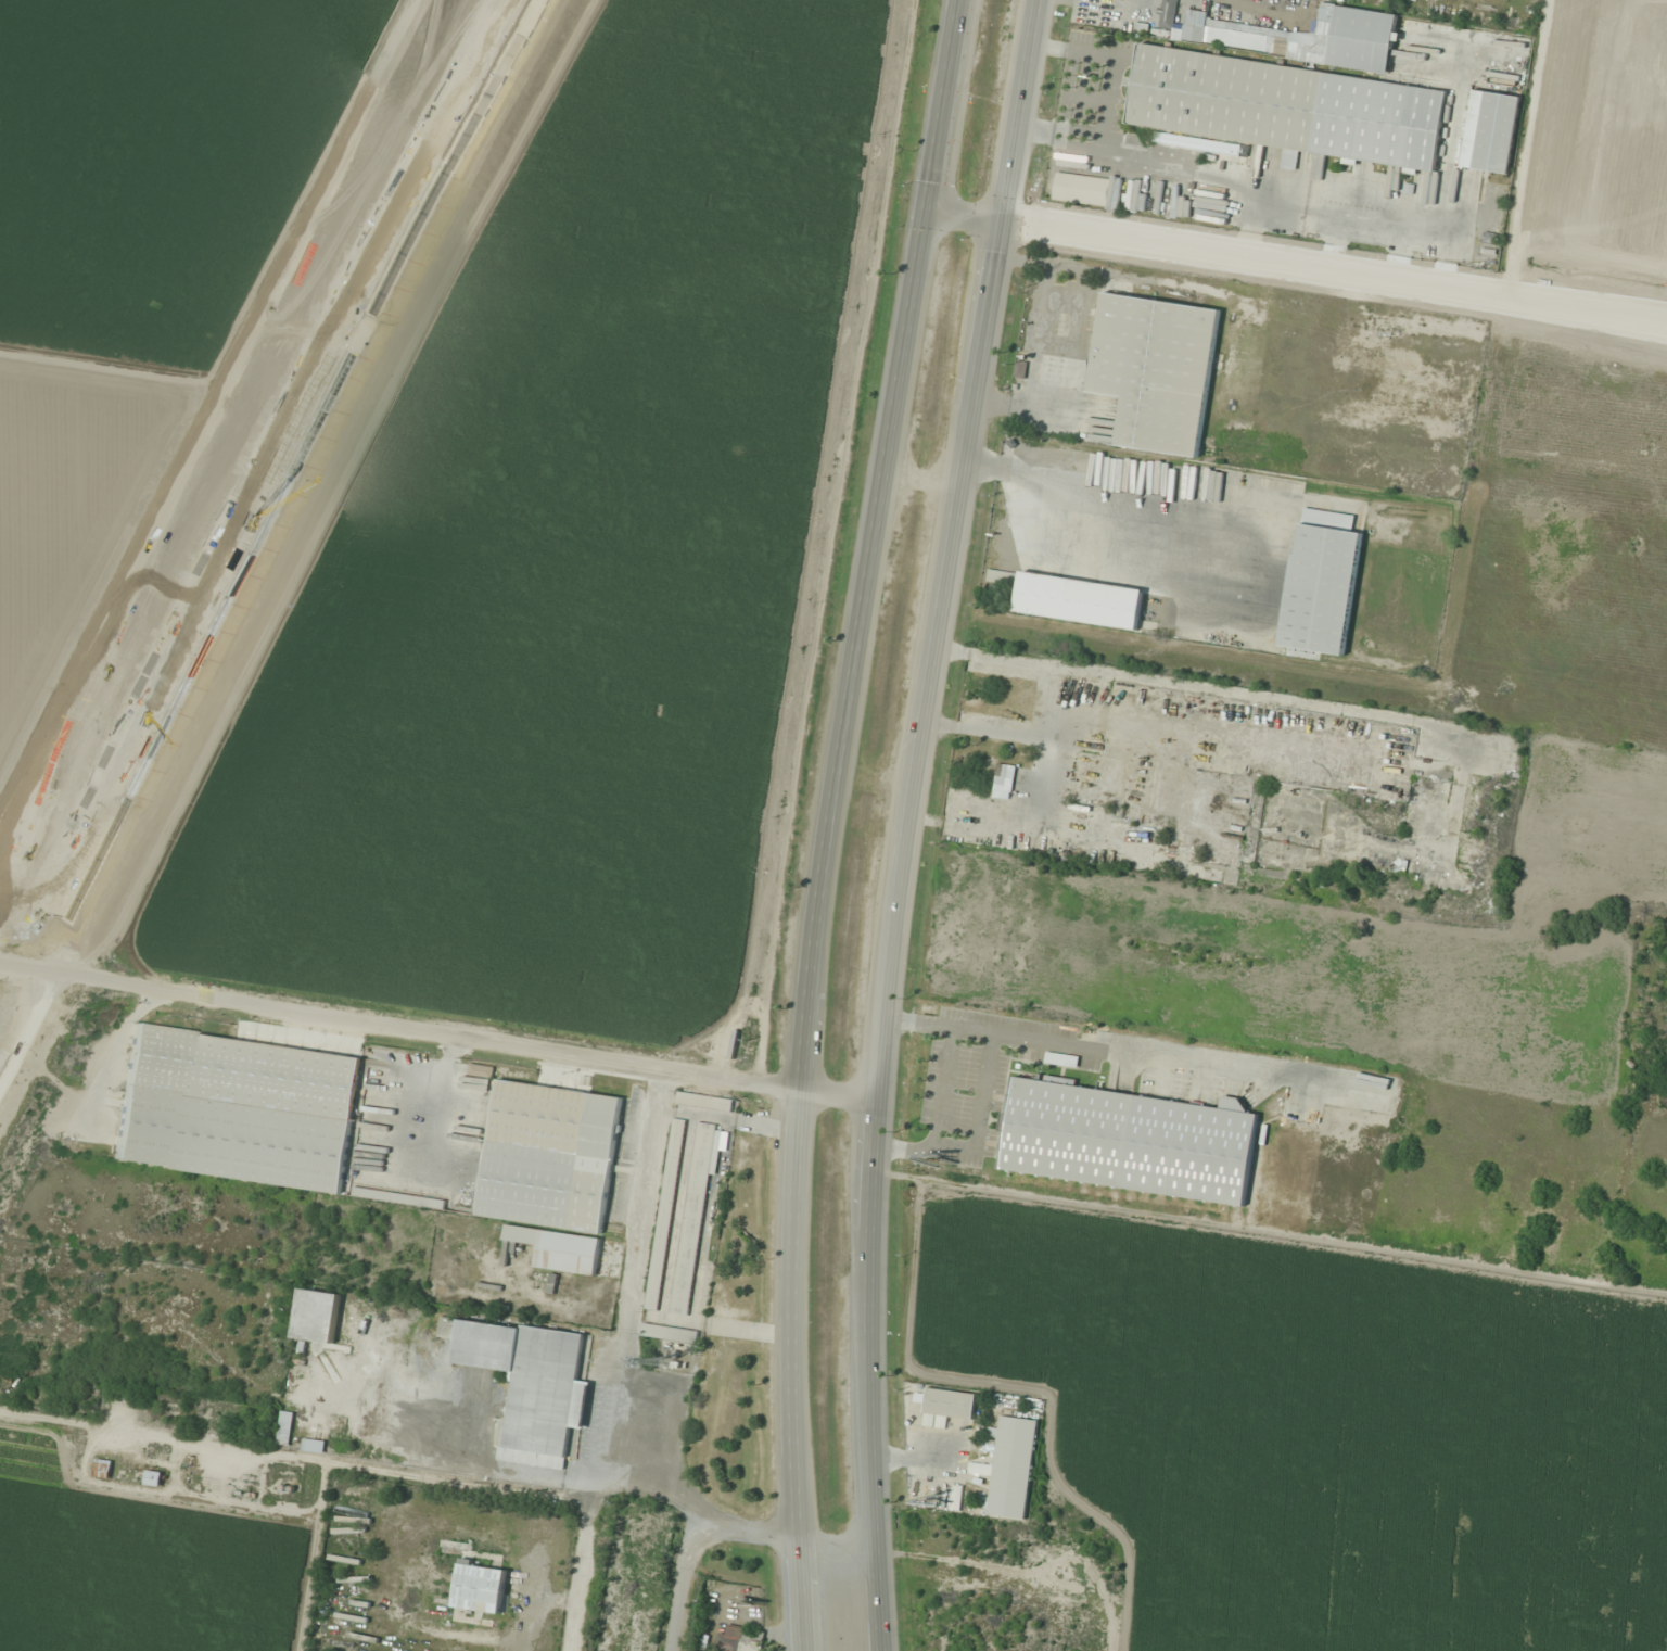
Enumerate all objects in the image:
building: (1167, 13)
building: (1122, 23)
building: (1194, 30)
building: (1322, 40)
building: (1287, 106)
building: (1490, 130)
building: (1081, 189)
traffic signals: (933, 209)
traffic signals: (996, 221)
road: (1299, 267)
building: (1155, 369)
road: (298, 487)
road: (881, 544)
road: (940, 562)
building: (1321, 582)
building: (1071, 598)
building: (1004, 777)
building: (1148, 814)
road: (27, 1028)
road: (436, 1034)
building: (481, 1070)
building: (705, 1101)
building: (237, 1108)
building: (1128, 1140)
building: (549, 1155)
building: (399, 1198)
building: (665, 1214)
building: (693, 1218)
building: (556, 1248)
building: (317, 1317)
building: (669, 1333)
road: (803, 1371)
building: (530, 1383)
road: (863, 1389)
building: (950, 1408)
building: (285, 1428)
building: (313, 1446)
building: (1011, 1465)
building: (102, 1469)
building: (153, 1478)
road: (698, 1540)
road: (839, 1548)
building: (481, 1588)
building: (738, 1639)

